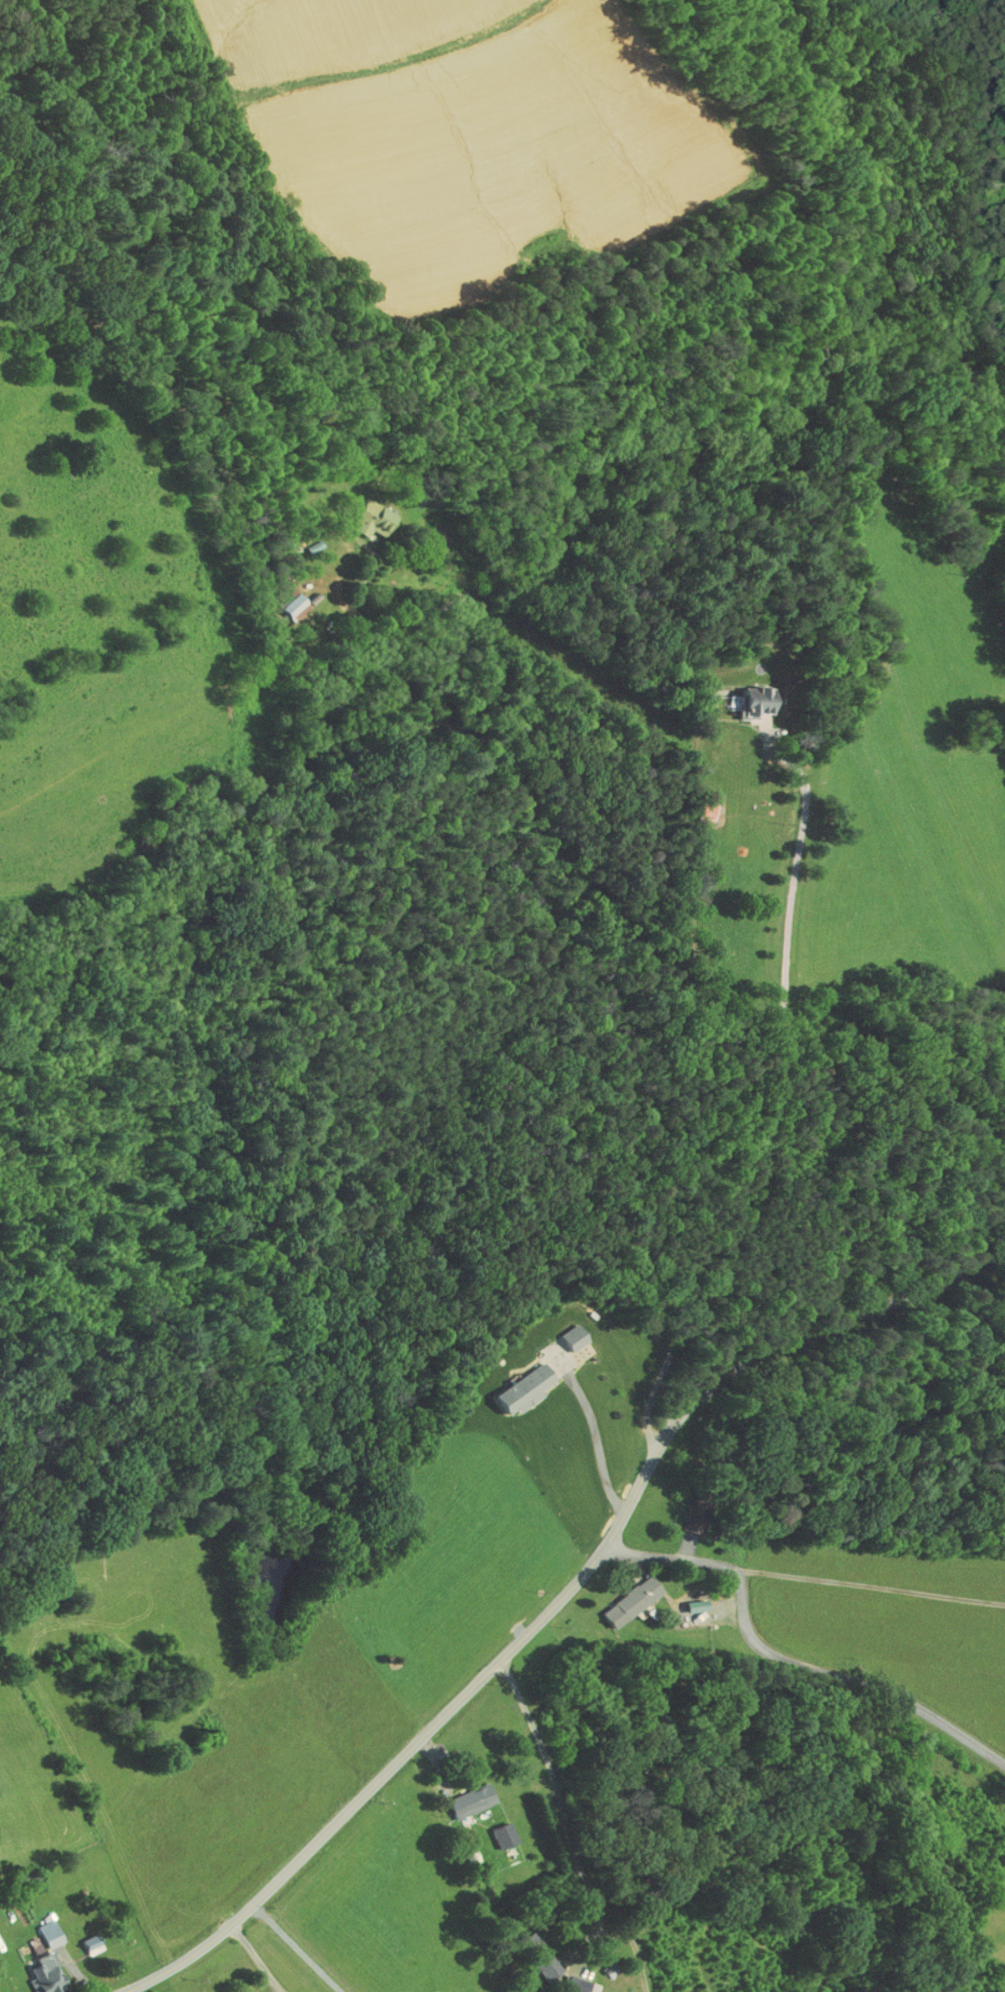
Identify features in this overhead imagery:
building: (360, 513)
building: (284, 599)
building: (737, 695)
road: (796, 868)
road: (653, 964)
building: (558, 1332)
building: (506, 1385)
road: (597, 1441)
road: (871, 1584)
building: (614, 1596)
building: (680, 1600)
road: (560, 1601)
road: (789, 1655)
building: (463, 1794)
road: (672, 1798)
road: (565, 1805)
building: (495, 1829)
building: (84, 1937)
building: (39, 1956)
building: (541, 1961)
building: (574, 1980)

